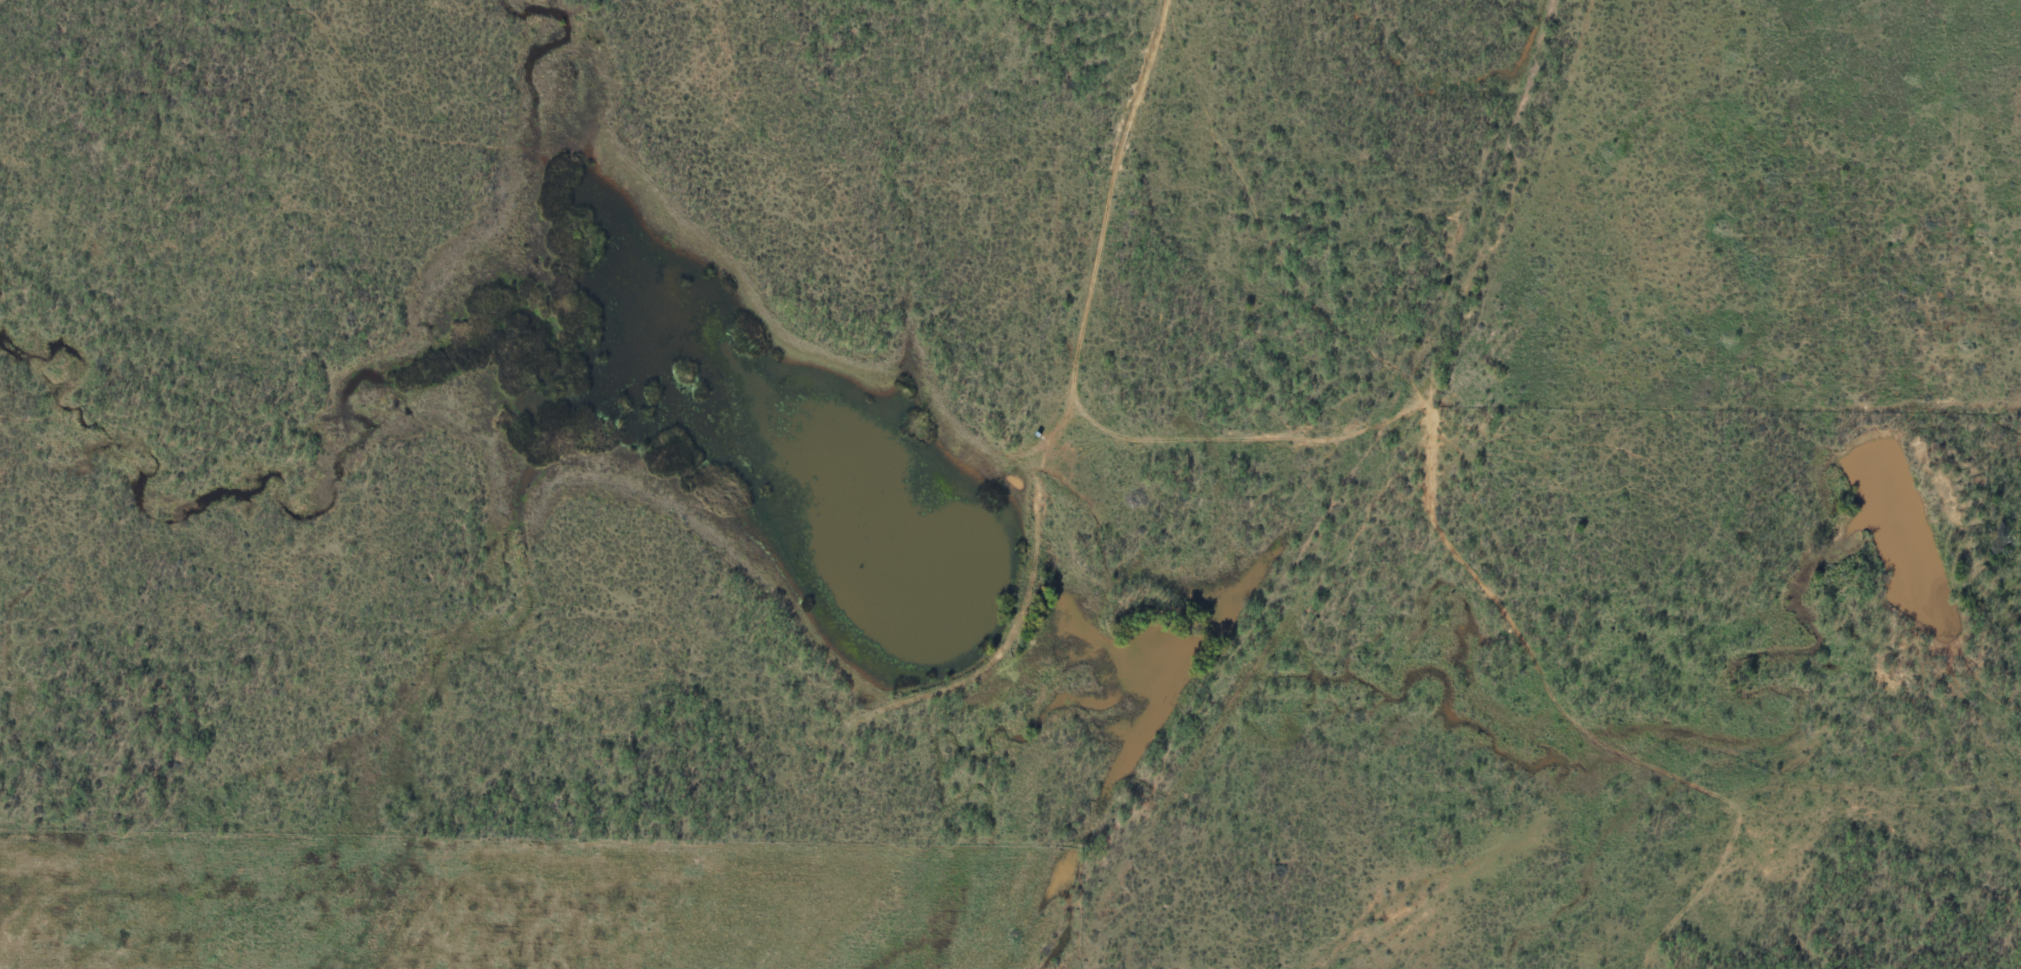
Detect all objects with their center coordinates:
road: (1033, 227)

